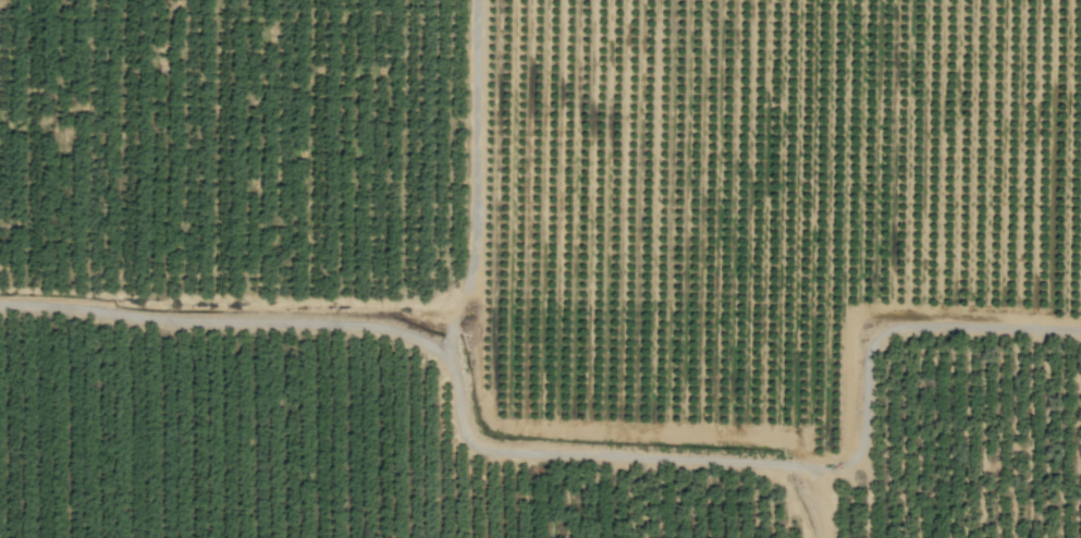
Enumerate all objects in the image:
road: (191, 320)

